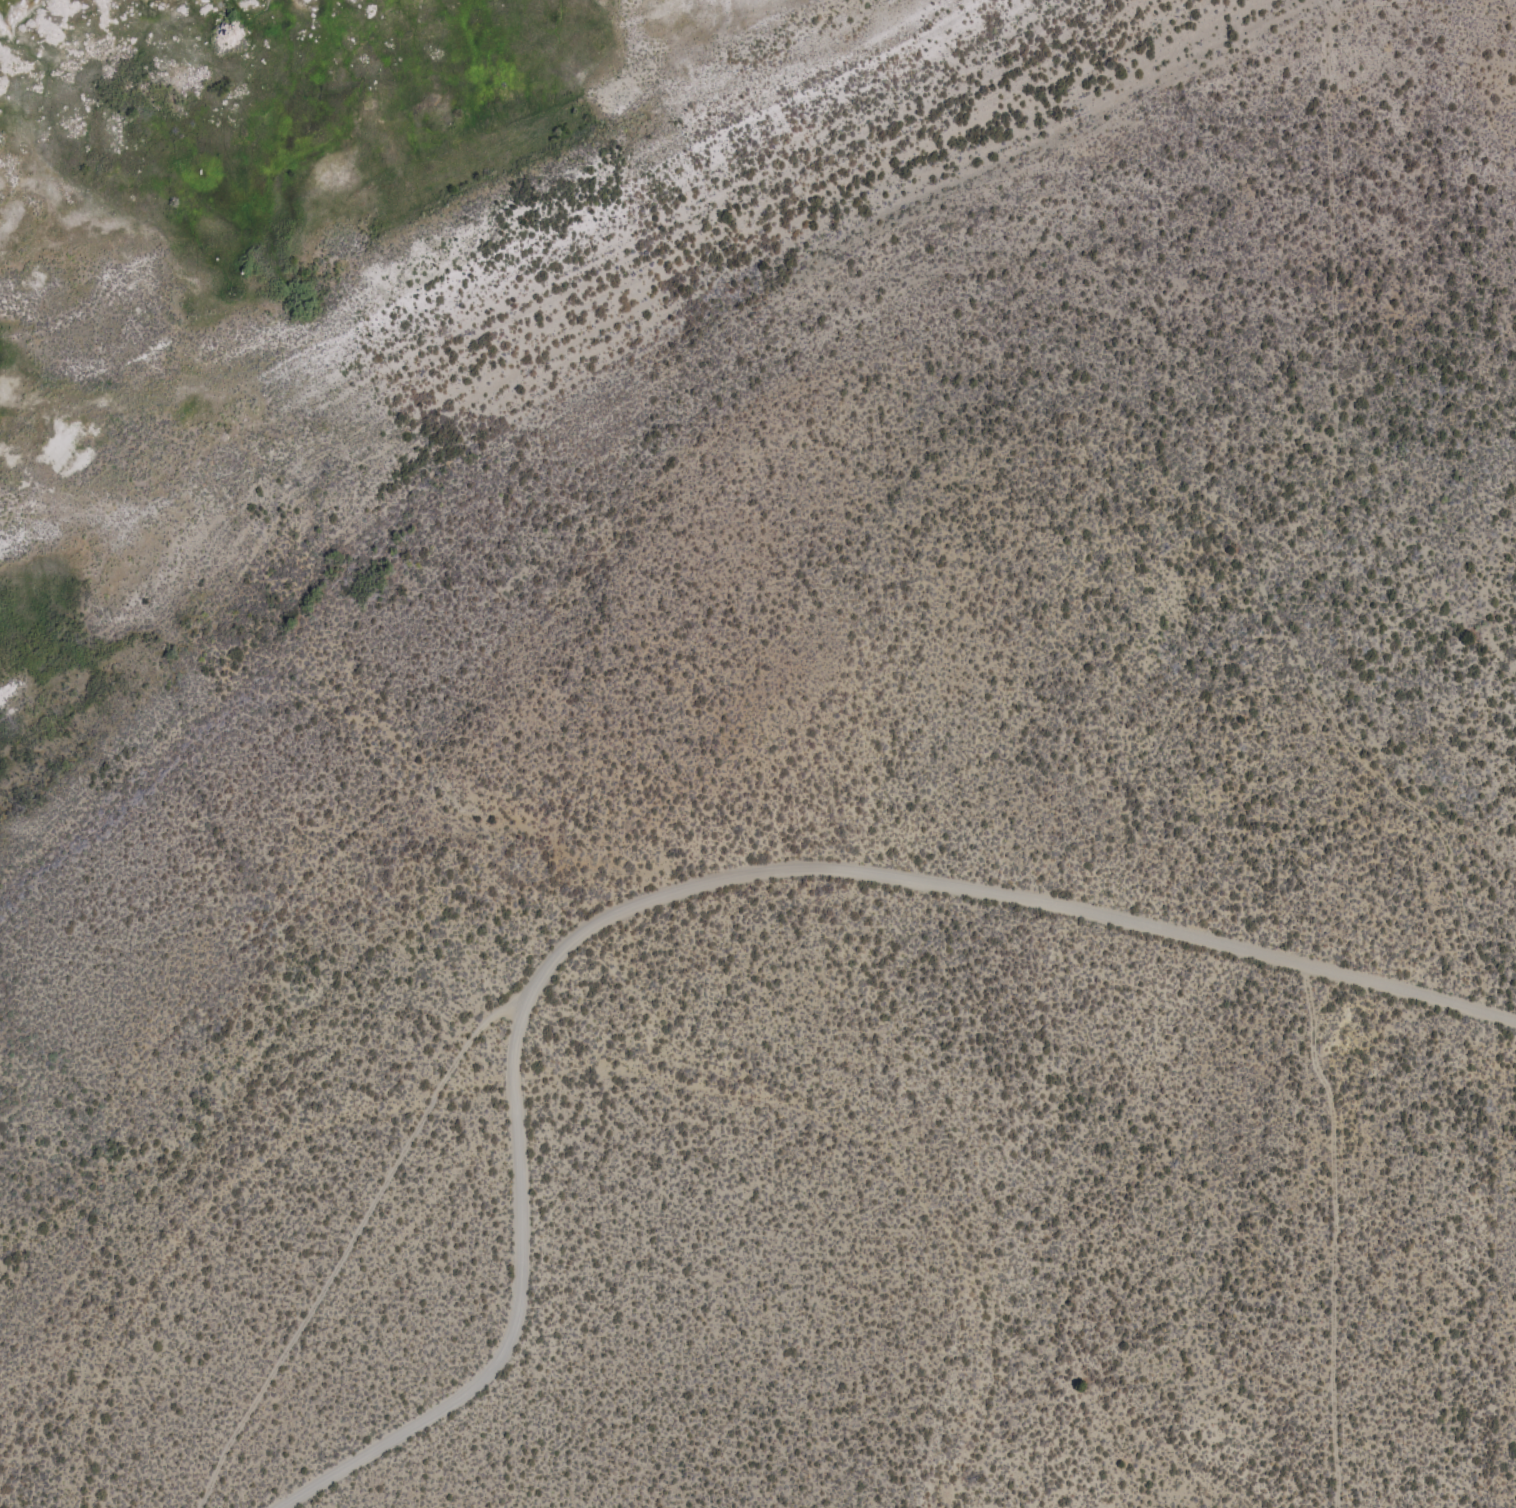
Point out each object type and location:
road: (1298, 538)
road: (696, 888)
road: (1332, 1236)

